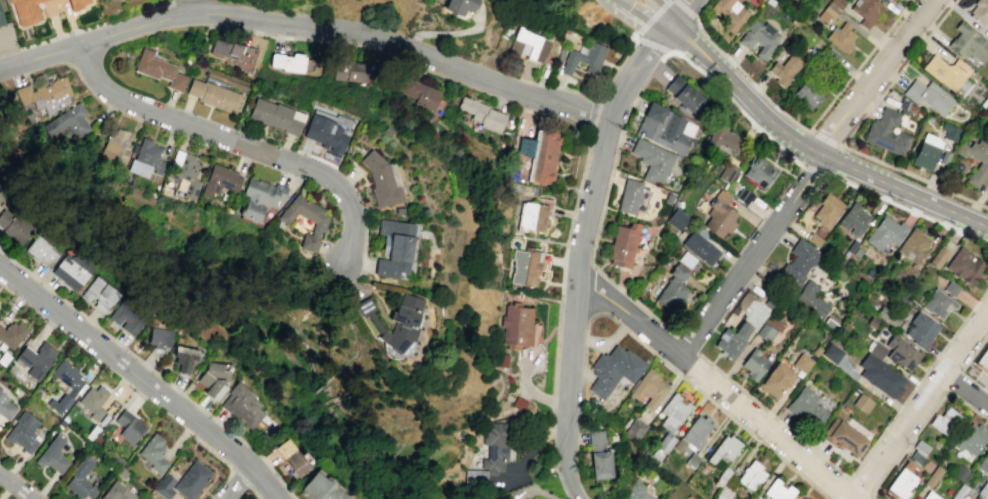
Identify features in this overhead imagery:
building: (882, 0)
road: (55, 3)
building: (77, 3)
road: (191, 6)
building: (457, 6)
road: (685, 9)
building: (830, 9)
building: (24, 11)
road: (665, 11)
road: (682, 11)
building: (866, 11)
building: (979, 11)
road: (657, 13)
building: (729, 13)
road: (643, 16)
building: (1, 19)
road: (894, 20)
road: (641, 31)
road: (66, 33)
road: (437, 33)
road: (865, 34)
building: (840, 36)
building: (758, 37)
road: (96, 39)
road: (876, 43)
building: (968, 43)
road: (26, 45)
building: (529, 45)
road: (406, 46)
building: (227, 48)
building: (829, 56)
building: (584, 58)
road: (406, 60)
building: (289, 62)
building: (158, 69)
building: (784, 69)
road: (638, 70)
building: (349, 71)
building: (946, 71)
road: (897, 72)
road: (746, 77)
road: (840, 88)
building: (419, 93)
building: (685, 93)
building: (45, 94)
building: (212, 94)
building: (806, 94)
building: (928, 96)
road: (592, 99)
road: (732, 101)
building: (482, 114)
building: (275, 116)
building: (986, 116)
road: (592, 119)
building: (67, 121)
building: (666, 129)
building: (886, 132)
building: (950, 132)
building: (324, 133)
road: (826, 139)
building: (724, 140)
road: (237, 143)
building: (115, 145)
building: (525, 146)
building: (926, 151)
road: (811, 153)
building: (544, 157)
building: (145, 159)
building: (653, 160)
building: (976, 160)
road: (612, 169)
road: (815, 169)
building: (184, 172)
building: (728, 172)
building: (760, 172)
road: (805, 176)
road: (914, 176)
building: (219, 180)
building: (380, 180)
building: (3, 196)
building: (745, 196)
building: (259, 197)
building: (630, 197)
road: (909, 208)
building: (827, 209)
building: (721, 216)
building: (533, 217)
building: (678, 219)
building: (852, 219)
building: (318, 223)
building: (14, 225)
building: (885, 232)
building: (813, 240)
building: (913, 244)
building: (623, 246)
building: (851, 246)
building: (392, 248)
building: (701, 248)
building: (40, 252)
building: (937, 257)
building: (687, 259)
building: (799, 261)
road: (564, 264)
building: (964, 266)
building: (526, 268)
building: (72, 271)
building: (679, 272)
building: (904, 273)
building: (98, 294)
building: (672, 296)
road: (590, 297)
building: (810, 300)
building: (940, 300)
road: (636, 302)
road: (573, 309)
road: (600, 314)
building: (886, 316)
building: (126, 318)
road: (634, 320)
building: (393, 321)
building: (870, 321)
building: (517, 324)
road: (624, 327)
road: (586, 329)
building: (920, 330)
building: (764, 332)
building: (12, 335)
building: (159, 338)
road: (585, 338)
building: (732, 340)
road: (606, 342)
road: (689, 343)
building: (876, 350)
building: (901, 351)
road: (974, 352)
building: (831, 354)
building: (24, 358)
building: (984, 358)
building: (4, 359)
building: (184, 359)
building: (42, 362)
building: (801, 363)
building: (754, 365)
road: (583, 368)
building: (614, 370)
building: (879, 375)
road: (958, 376)
building: (68, 377)
road: (143, 379)
building: (212, 379)
building: (775, 381)
road: (974, 381)
road: (918, 382)
road: (951, 386)
road: (965, 388)
building: (649, 389)
road: (531, 391)
road: (554, 401)
building: (94, 402)
building: (519, 403)
building: (862, 403)
road: (920, 404)
building: (61, 405)
road: (967, 406)
building: (241, 407)
building: (6, 408)
building: (805, 408)
building: (675, 409)
road: (727, 415)
road: (773, 415)
building: (944, 421)
road: (553, 423)
building: (130, 428)
building: (635, 430)
road: (771, 431)
building: (23, 433)
building: (696, 433)
building: (844, 438)
building: (968, 438)
building: (596, 441)
road: (909, 443)
building: (666, 444)
building: (495, 445)
building: (919, 445)
road: (210, 449)
building: (724, 450)
building: (154, 454)
building: (53, 457)
building: (916, 457)
building: (291, 460)
building: (693, 461)
building: (984, 463)
building: (600, 464)
building: (959, 472)
building: (750, 475)
road: (241, 476)
building: (932, 476)
building: (722, 478)
road: (850, 480)
building: (82, 481)
building: (193, 481)
building: (900, 481)
road: (235, 482)
road: (15, 486)
building: (165, 487)
building: (323, 488)
building: (778, 490)
building: (983, 490)
building: (117, 492)
building: (636, 492)
building: (959, 492)
road: (255, 494)
building: (929, 496)
building: (753, 497)
road: (872, 497)
building: (546, 498)
building: (804, 498)

